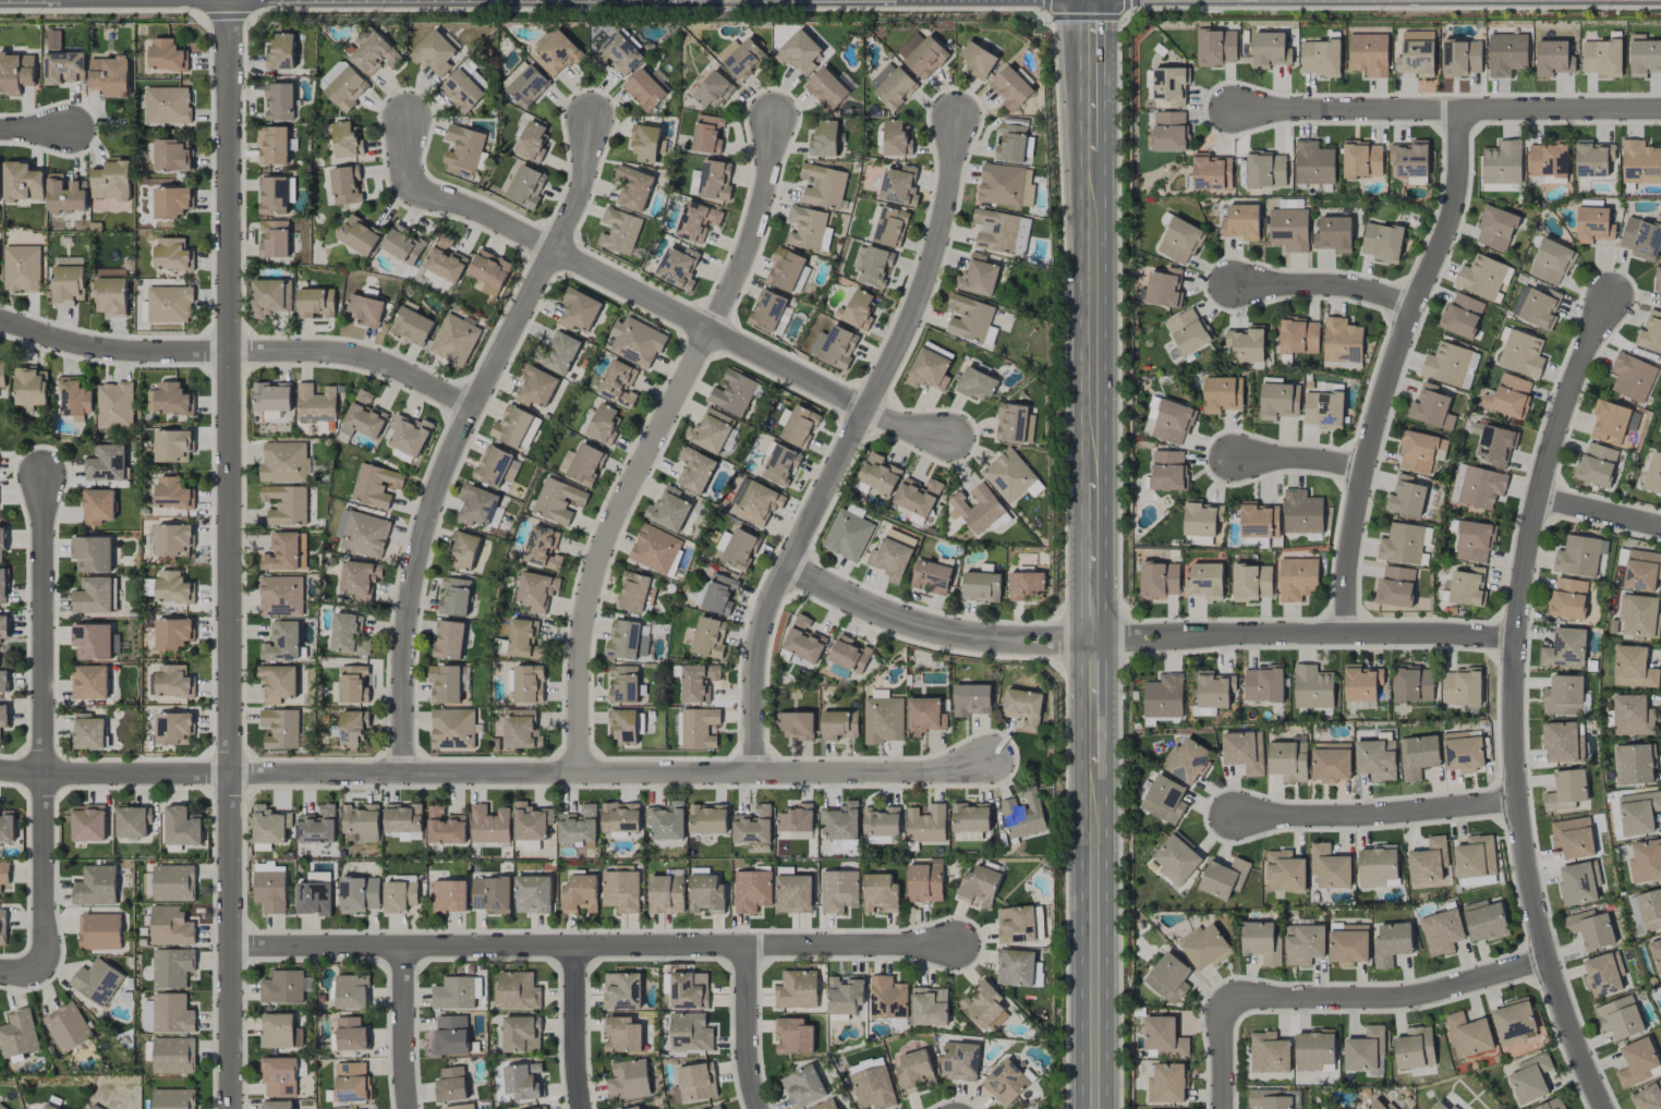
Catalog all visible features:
traffic signals: (1087, 21)
building: (1216, 46)
building: (1270, 50)
building: (281, 52)
building: (373, 52)
building: (556, 52)
building: (800, 52)
building: (434, 53)
building: (619, 53)
building: (1506, 53)
building: (166, 54)
building: (922, 54)
building: (1368, 54)
building: (741, 57)
building: (1320, 58)
building: (1462, 58)
building: (1601, 58)
building: (1645, 58)
building: (1416, 59)
building: (1553, 59)
building: (977, 60)
building: (62, 62)
building: (15, 73)
road: (1087, 74)
building: (109, 75)
building: (478, 81)
building: (524, 84)
building: (343, 85)
building: (892, 85)
building: (1169, 85)
building: (1009, 88)
building: (644, 89)
building: (713, 89)
building: (826, 89)
building: (461, 90)
building: (279, 101)
building: (167, 106)
road: (1447, 111)
road: (35, 130)
building: (1169, 131)
building: (707, 134)
building: (896, 138)
building: (824, 139)
building: (1011, 139)
building: (347, 141)
building: (532, 142)
building: (645, 143)
building: (272, 145)
building: (463, 147)
building: (172, 156)
building: (1592, 158)
building: (1362, 159)
building: (1410, 161)
building: (1502, 162)
building: (1547, 162)
building: (1640, 162)
building: (1313, 163)
building: (1265, 170)
building: (1211, 172)
building: (111, 180)
building: (711, 180)
building: (22, 182)
building: (345, 184)
building: (1006, 185)
building: (526, 186)
building: (823, 186)
building: (899, 186)
building: (632, 187)
building: (275, 194)
building: (64, 195)
building: (171, 202)
building: (696, 221)
building: (1241, 222)
building: (1593, 224)
building: (890, 228)
building: (809, 229)
building: (1288, 229)
building: (1495, 229)
building: (1001, 231)
building: (619, 232)
building: (1333, 233)
building: (359, 235)
building: (1640, 237)
building: (275, 240)
building: (1179, 241)
building: (1381, 242)
building: (403, 244)
building: (172, 254)
building: (445, 260)
building: (68, 261)
building: (1551, 261)
building: (875, 266)
building: (21, 268)
building: (678, 268)
building: (786, 270)
building: (489, 271)
building: (978, 275)
building: (1482, 277)
road: (1326, 283)
building: (68, 284)
building: (1658, 287)
building: (1164, 288)
building: (110, 296)
building: (271, 296)
road: (650, 301)
building: (315, 303)
building: (169, 304)
building: (1537, 306)
building: (365, 309)
building: (857, 309)
building: (578, 310)
building: (767, 310)
road: (1092, 315)
building: (1462, 315)
building: (971, 319)
building: (411, 326)
building: (1188, 331)
building: (1650, 332)
building: (1299, 336)
building: (454, 340)
building: (1342, 341)
building: (635, 342)
building: (1247, 343)
building: (834, 346)
road: (111, 351)
building: (560, 352)
building: (1521, 354)
road: (356, 356)
building: (1450, 365)
road: (1392, 369)
building: (929, 370)
building: (2, 374)
building: (1632, 377)
building: (618, 383)
building: (975, 383)
building: (536, 386)
building: (31, 387)
building: (733, 393)
building: (1222, 394)
building: (1508, 395)
building: (271, 397)
building: (75, 398)
building: (172, 399)
building: (1278, 401)
building: (316, 403)
building: (114, 405)
building: (1432, 406)
building: (1323, 410)
building: (363, 416)
building: (1172, 422)
building: (1609, 422)
building: (1014, 423)
building: (603, 425)
building: (514, 426)
building: (800, 426)
building: (710, 430)
building: (1660, 430)
building: (409, 435)
road: (461, 436)
road: (653, 440)
building: (1494, 443)
building: (172, 446)
road: (848, 446)
building: (1419, 451)
road: (1300, 459)
building: (283, 462)
building: (106, 463)
building: (585, 464)
building: (1597, 464)
building: (780, 465)
building: (493, 466)
building: (694, 470)
building: (1167, 470)
building: (878, 474)
building: (1652, 475)
building: (1011, 477)
building: (375, 486)
building: (1478, 486)
building: (172, 493)
building: (918, 496)
building: (1406, 497)
building: (557, 500)
building: (753, 502)
building: (286, 504)
building: (476, 504)
building: (98, 505)
building: (977, 509)
building: (668, 510)
building: (1301, 512)
road: (1601, 512)
building: (1201, 517)
building: (1259, 521)
building: (362, 533)
building: (847, 535)
building: (172, 540)
building: (1201, 540)
building: (2, 541)
building: (723, 541)
building: (1474, 541)
building: (1401, 544)
building: (542, 548)
building: (654, 549)
building: (740, 549)
building: (463, 550)
building: (284, 552)
building: (92, 553)
road: (229, 554)
building: (1579, 556)
building: (890, 559)
road: (1095, 559)
building: (1641, 570)
building: (931, 576)
building: (1297, 578)
building: (360, 580)
building: (1160, 580)
building: (1204, 581)
building: (1252, 582)
building: (2, 585)
building: (1026, 585)
building: (1395, 586)
building: (1467, 586)
building: (172, 587)
building: (981, 587)
building: (535, 590)
building: (634, 592)
building: (719, 594)
building: (95, 595)
building: (280, 596)
building: (454, 597)
building: (1568, 598)
building: (1639, 616)
building: (3, 626)
road: (934, 631)
building: (172, 633)
building: (349, 634)
road: (1306, 634)
building: (521, 637)
building: (708, 637)
building: (448, 639)
building: (623, 639)
building: (803, 641)
building: (92, 642)
building: (281, 642)
building: (1565, 649)
building: (849, 655)
building: (1633, 667)
building: (3, 681)
building: (170, 681)
building: (89, 682)
building: (698, 682)
building: (1361, 682)
building: (277, 683)
building: (1263, 683)
building: (353, 684)
building: (445, 684)
building: (529, 684)
building: (623, 684)
building: (1414, 684)
building: (1460, 686)
building: (1312, 687)
building: (1214, 690)
building: (1164, 696)
building: (1564, 696)
building: (971, 699)
road: (1095, 703)
road: (1514, 704)
building: (1360, 705)
building: (1022, 707)
building: (3, 716)
building: (924, 716)
building: (1633, 716)
building: (883, 720)
road: (45, 724)
building: (838, 724)
building: (626, 726)
building: (796, 726)
building: (352, 727)
building: (280, 728)
building: (700, 728)
building: (173, 729)
building: (452, 729)
building: (516, 730)
building: (88, 731)
building: (1563, 742)
building: (1244, 752)
building: (1418, 756)
building: (1377, 759)
building: (1186, 760)
building: (1287, 760)
building: (1331, 761)
building: (1634, 764)
road: (610, 773)
road: (114, 775)
building: (1566, 790)
building: (1164, 800)
building: (1638, 812)
building: (1022, 815)
road: (1375, 816)
building: (402, 817)
building: (620, 817)
building: (970, 817)
building: (707, 818)
building: (796, 818)
building: (840, 820)
building: (132, 821)
building: (361, 821)
building: (531, 821)
building: (665, 821)
building: (881, 821)
building: (87, 822)
building: (926, 824)
building: (7, 825)
building: (269, 825)
building: (489, 825)
building: (579, 825)
building: (317, 826)
building: (753, 826)
building: (182, 827)
building: (445, 827)
building: (410, 836)
building: (1573, 838)
building: (882, 840)
building: (838, 845)
building: (1475, 856)
building: (1177, 860)
building: (1646, 862)
building: (1428, 863)
building: (1377, 865)
building: (1330, 867)
building: (1284, 872)
building: (4, 873)
building: (319, 877)
building: (1224, 878)
building: (924, 880)
building: (173, 882)
building: (1579, 883)
building: (96, 886)
building: (979, 887)
building: (751, 890)
building: (838, 890)
building: (270, 891)
building: (620, 891)
building: (793, 893)
building: (880, 893)
building: (360, 894)
building: (490, 894)
building: (532, 894)
building: (579, 894)
building: (665, 894)
building: (705, 894)
building: (399, 895)
building: (449, 895)
building: (313, 899)
building: (1650, 910)
building: (1636, 915)
building: (1484, 921)
building: (1019, 924)
building: (2, 926)
building: (170, 926)
building: (1591, 929)
building: (99, 931)
building: (1442, 931)
road: (1094, 938)
building: (1261, 942)
building: (1348, 943)
building: (1391, 943)
road: (593, 945)
building: (1304, 945)
building: (1203, 946)
building: (1657, 955)
building: (171, 967)
building: (1015, 967)
road: (22, 970)
building: (1603, 975)
building: (1168, 977)
building: (97, 982)
building: (284, 987)
building: (517, 990)
building: (689, 990)
building: (797, 990)
building: (351, 991)
building: (621, 991)
building: (457, 992)
building: (845, 995)
building: (887, 998)
road: (1387, 999)
building: (930, 1007)
building: (984, 1007)
building: (172, 1013)
building: (146, 1015)
building: (1620, 1017)
building: (1513, 1022)
road: (577, 1026)
building: (68, 1027)
road: (404, 1027)
road: (747, 1027)
building: (280, 1031)
building: (690, 1032)
building: (19, 1034)
building: (351, 1034)
building: (521, 1034)
building: (450, 1035)
building: (622, 1035)
building: (1468, 1035)
building: (792, 1036)
building: (1164, 1037)
building: (1415, 1048)
building: (1314, 1050)
building: (1365, 1050)
road: (1222, 1053)
building: (1269, 1053)
building: (173, 1056)
building: (959, 1061)
building: (1638, 1063)
building: (865, 1064)
building: (914, 1069)
building: (279, 1076)
building: (1530, 1078)
building: (628, 1080)
building: (522, 1081)
building: (350, 1082)
building: (696, 1082)
building: (1005, 1083)
building: (450, 1084)
building: (1166, 1084)
building: (802, 1087)
building: (873, 1088)
building: (1648, 1097)
building: (173, 1099)
building: (1268, 1099)
building: (277, 1105)
building: (827, 1105)
building: (1377, 1105)
building: (1441, 1105)
building: (1551, 1105)
building: (1, 1107)
building: (48, 1107)
building: (93, 1107)
building: (459, 1107)
building: (542, 1108)
building: (634, 1108)
building: (717, 1108)

